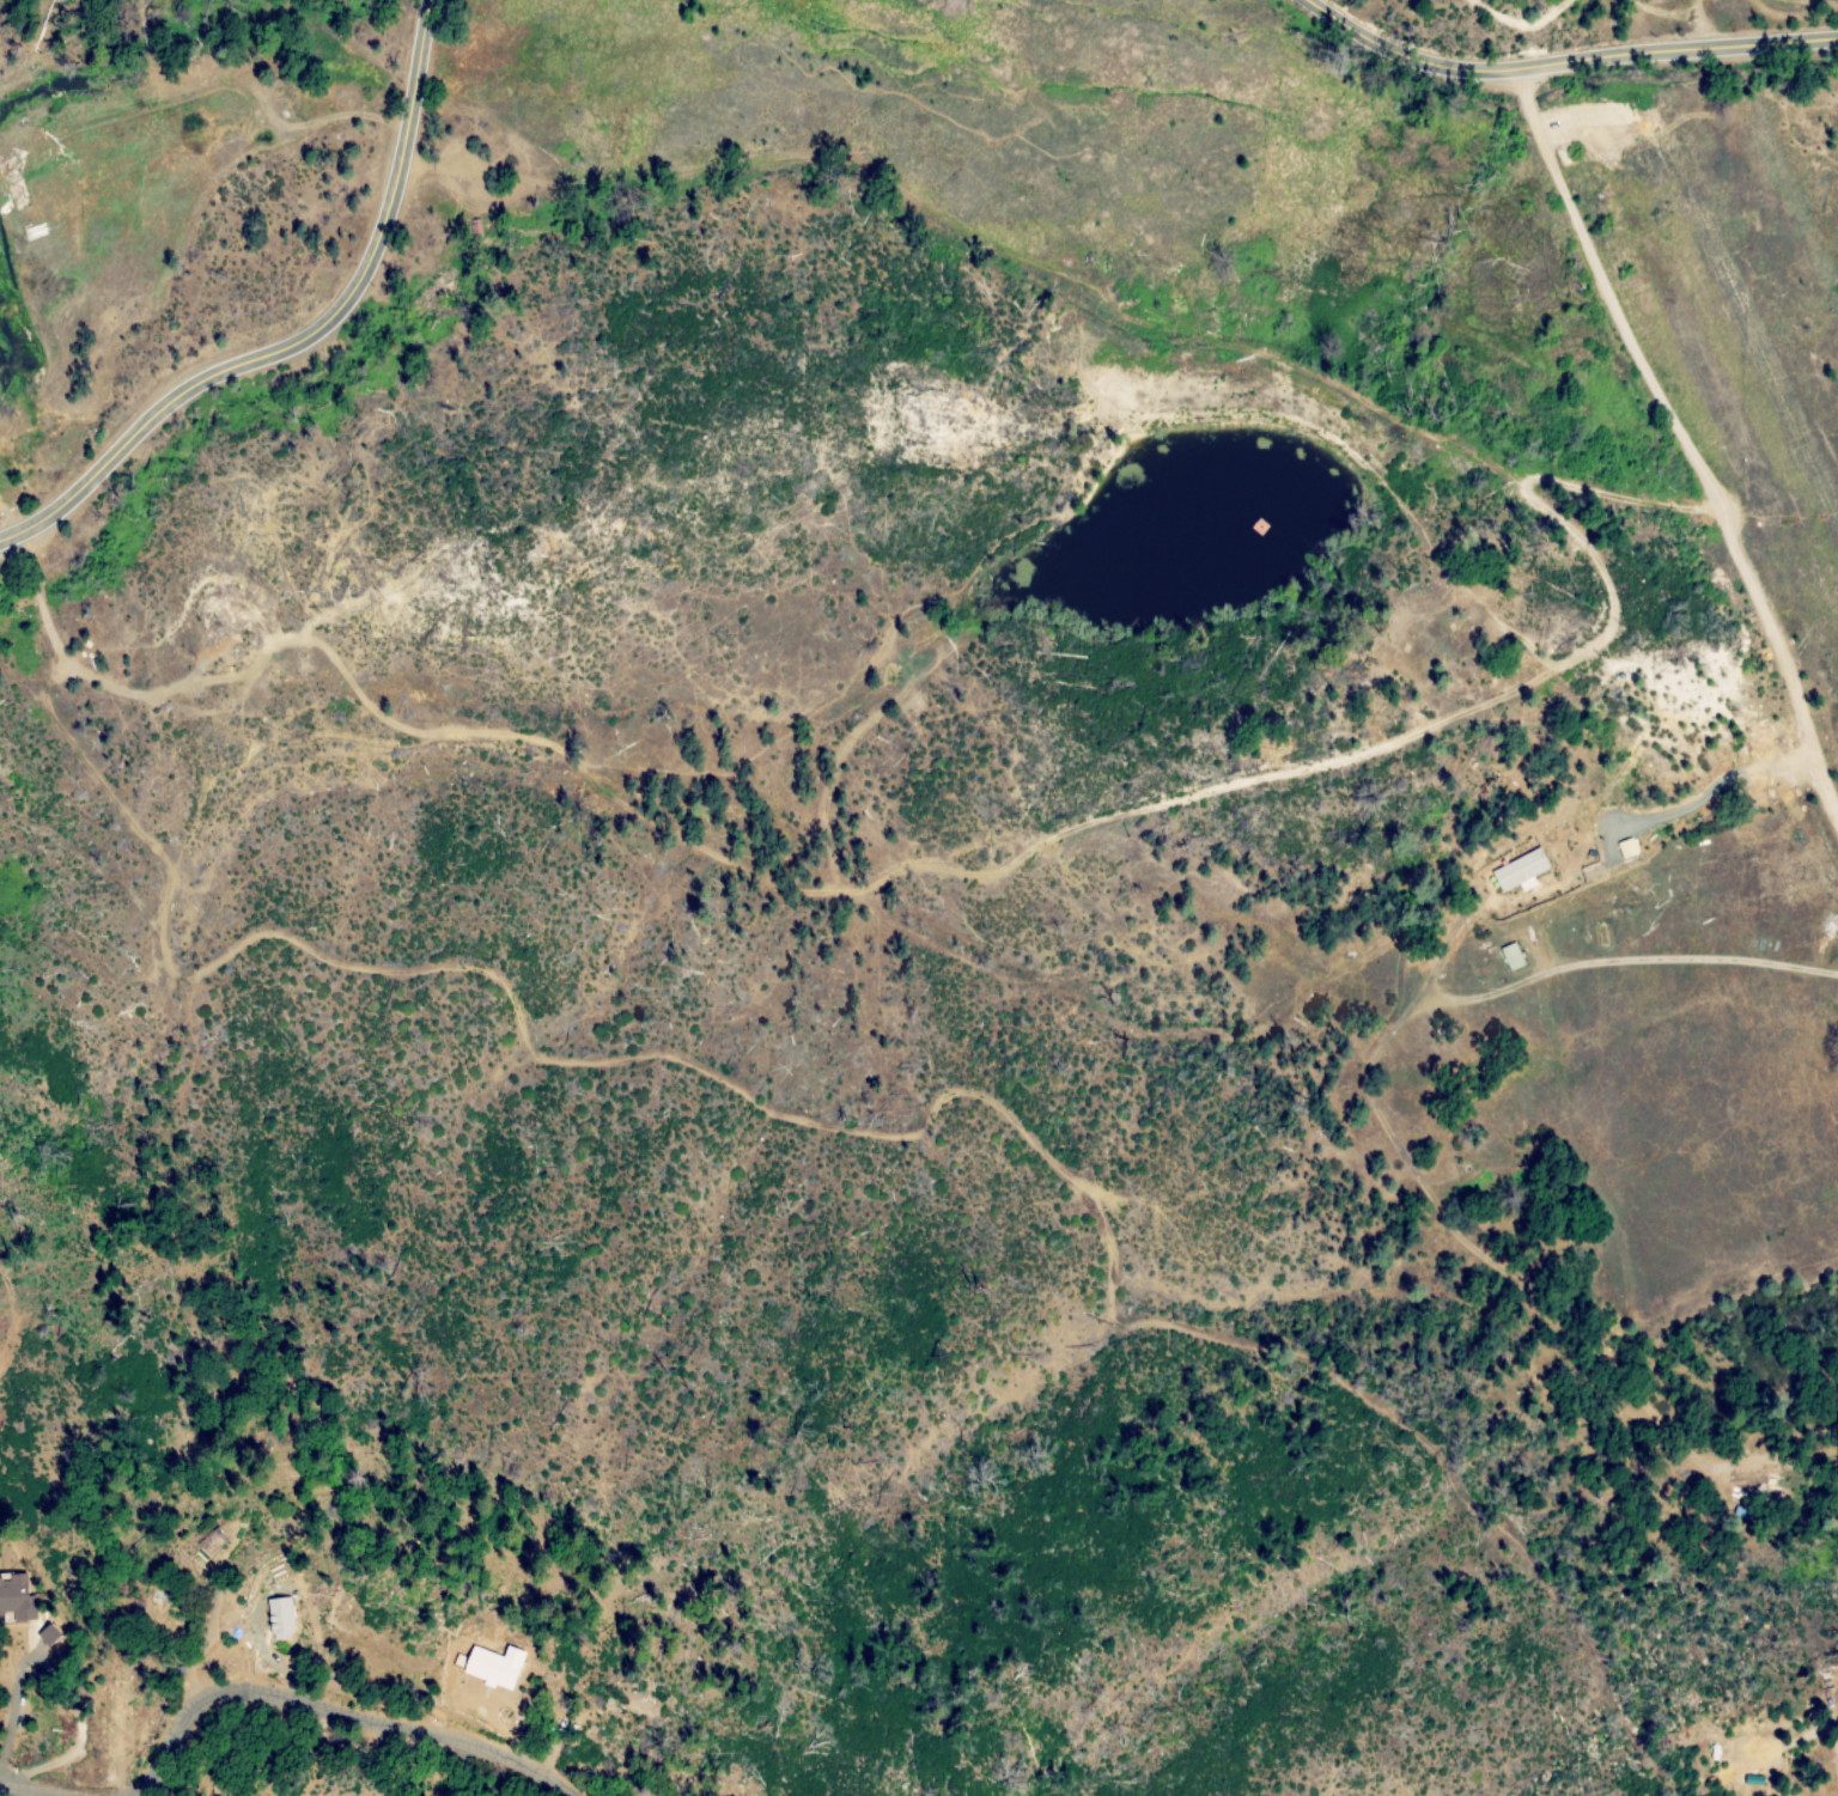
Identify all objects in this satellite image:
road: (1563, 62)
road: (305, 336)
airport runway: (1772, 370)
road: (1682, 421)
building: (1520, 870)
road: (1593, 952)
building: (1511, 956)
road: (1522, 1283)
building: (17, 1606)
building: (279, 1614)
building: (267, 1623)
building: (47, 1634)
building: (467, 1657)
road: (333, 1712)
road: (16, 1723)
road: (14, 1794)

